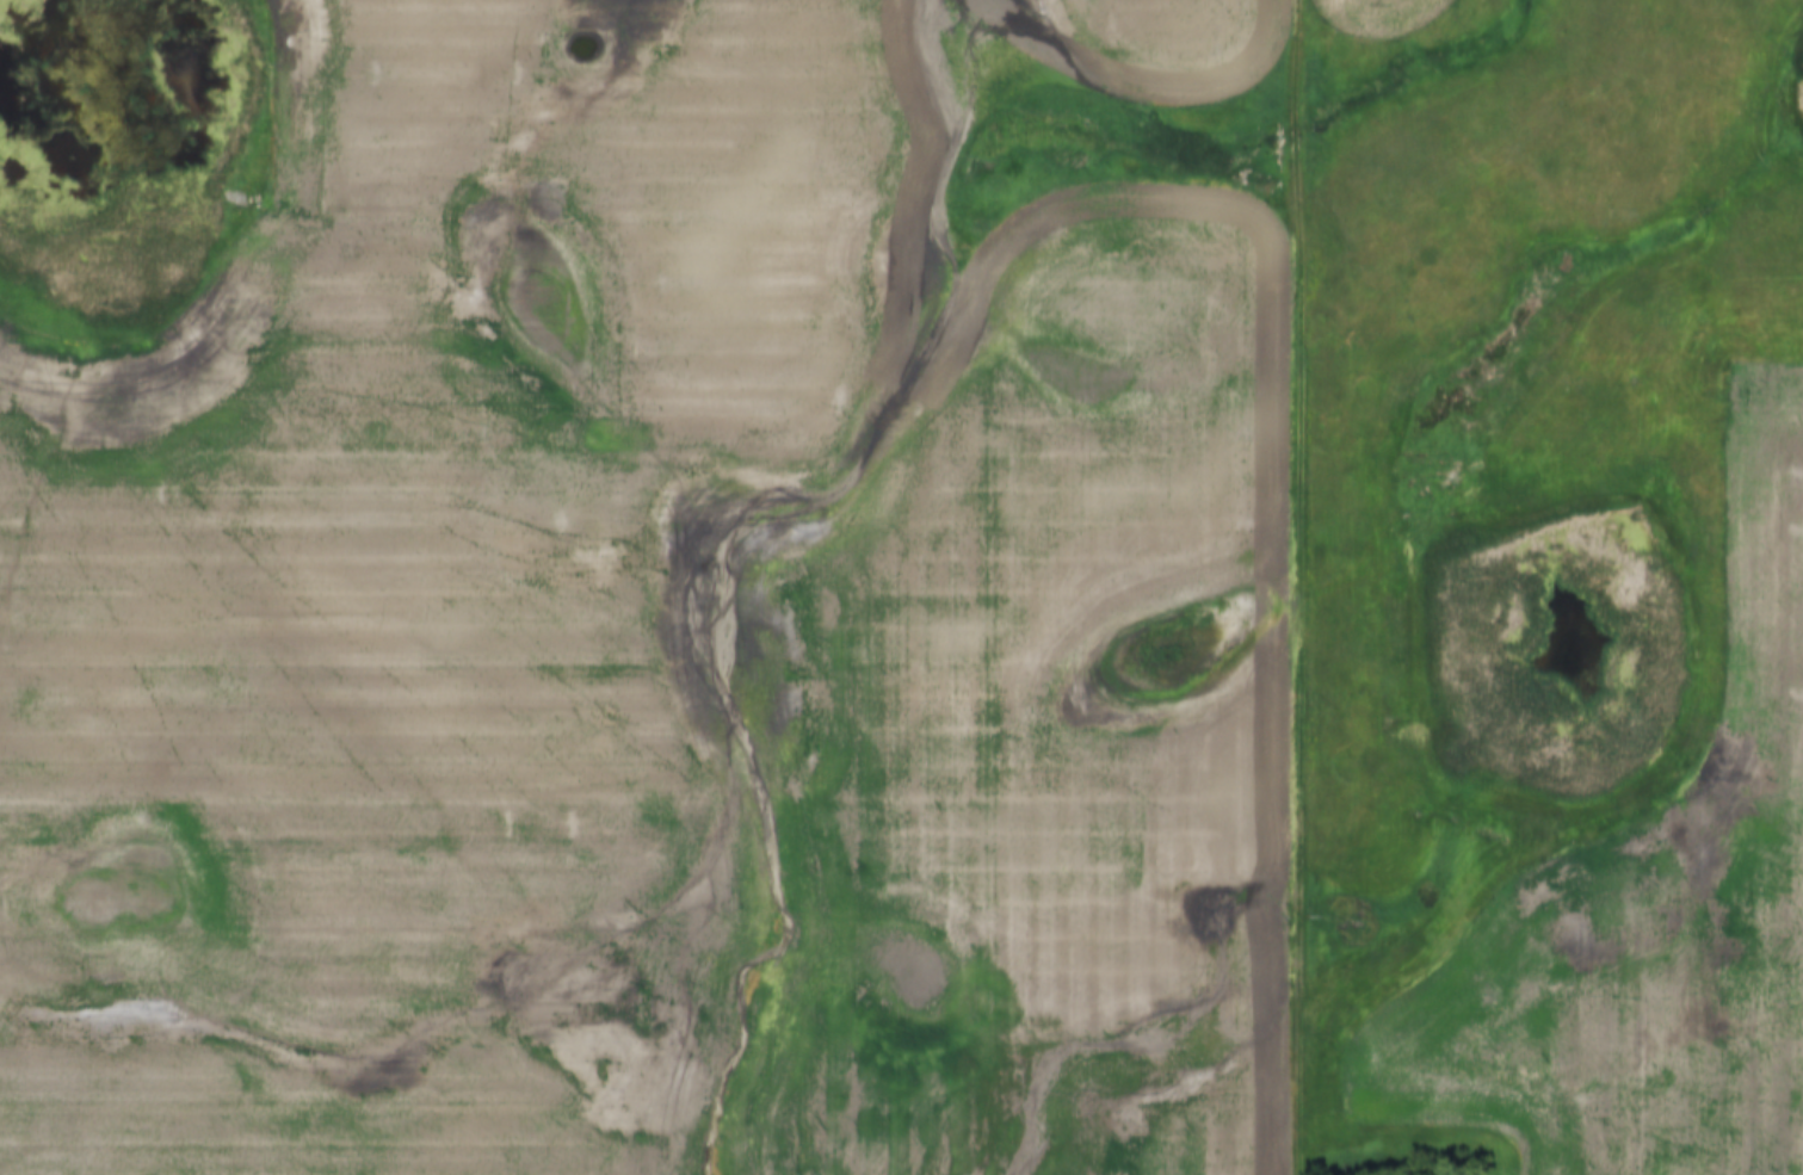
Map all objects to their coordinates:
road: (1295, 984)

